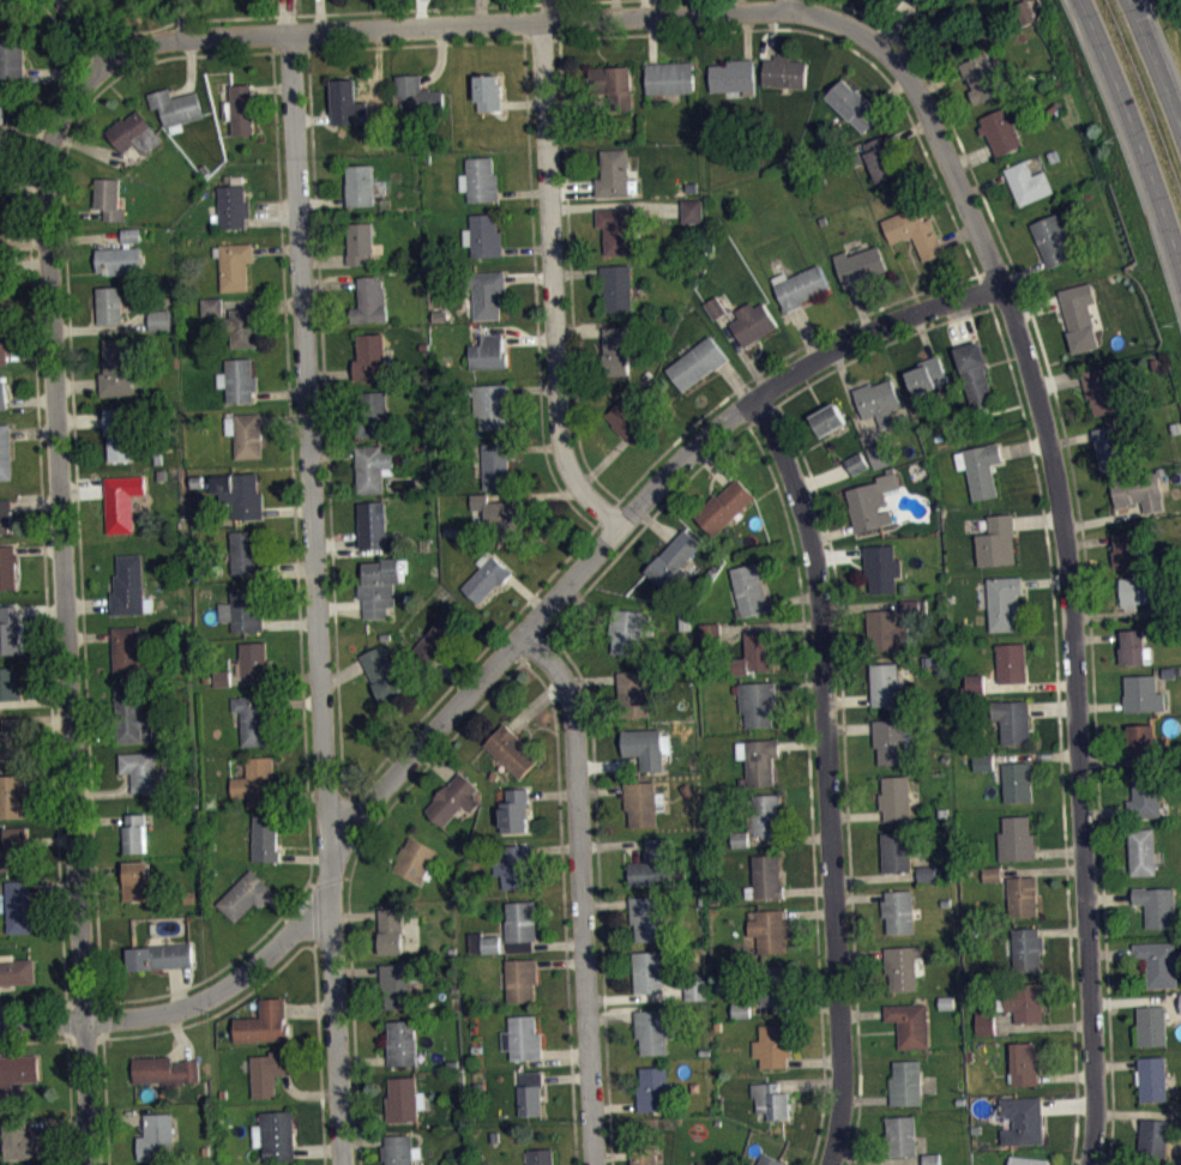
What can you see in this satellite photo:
building: (125, 0)
building: (920, 2)
road: (735, 6)
building: (2, 8)
road: (341, 12)
road: (448, 25)
road: (61, 28)
road: (100, 37)
road: (540, 38)
road: (415, 43)
road: (844, 43)
road: (289, 50)
road: (1158, 54)
building: (12, 55)
building: (784, 71)
building: (733, 76)
building: (669, 77)
building: (981, 77)
building: (611, 87)
building: (488, 92)
building: (416, 96)
building: (345, 101)
building: (852, 104)
building: (1, 107)
building: (175, 107)
building: (240, 109)
road: (1137, 127)
building: (1001, 131)
building: (134, 133)
building: (881, 158)
building: (615, 173)
building: (480, 179)
building: (1028, 182)
building: (360, 183)
building: (108, 198)
building: (233, 206)
building: (692, 210)
building: (620, 227)
building: (914, 230)
building: (0, 234)
building: (483, 235)
building: (1052, 239)
building: (358, 242)
building: (120, 255)
building: (235, 265)
building: (860, 265)
road: (571, 276)
road: (553, 282)
building: (801, 285)
building: (1, 286)
building: (617, 286)
building: (487, 294)
building: (369, 300)
road: (536, 300)
building: (109, 304)
building: (211, 306)
building: (715, 307)
building: (158, 319)
building: (753, 322)
building: (1080, 326)
building: (241, 327)
building: (2, 340)
building: (616, 349)
building: (488, 352)
building: (370, 356)
building: (697, 362)
road: (772, 364)
building: (116, 367)
building: (974, 370)
building: (927, 375)
building: (237, 379)
building: (1103, 388)
building: (2, 391)
building: (878, 400)
building: (494, 405)
building: (373, 414)
building: (628, 417)
building: (827, 418)
building: (119, 433)
building: (245, 434)
building: (1108, 447)
building: (5, 452)
building: (880, 453)
road: (326, 454)
building: (498, 463)
building: (856, 463)
building: (372, 467)
building: (980, 467)
road: (76, 469)
building: (857, 471)
building: (1139, 490)
building: (240, 493)
building: (872, 500)
building: (122, 502)
building: (724, 505)
road: (656, 513)
building: (5, 515)
building: (501, 517)
road: (42, 520)
building: (374, 526)
road: (1062, 532)
building: (996, 541)
road: (1081, 543)
building: (1125, 549)
building: (246, 551)
building: (673, 556)
road: (64, 563)
building: (7, 566)
building: (881, 567)
building: (486, 577)
building: (129, 586)
building: (379, 586)
building: (749, 590)
road: (297, 591)
building: (1135, 591)
road: (317, 599)
building: (1004, 600)
building: (914, 605)
building: (243, 608)
building: (914, 616)
building: (8, 628)
building: (628, 629)
building: (886, 630)
building: (710, 633)
building: (440, 638)
building: (1135, 647)
building: (126, 650)
building: (755, 652)
road: (528, 653)
road: (839, 654)
building: (254, 658)
road: (472, 660)
building: (929, 660)
building: (1011, 662)
road: (490, 671)
building: (382, 674)
building: (222, 677)
building: (8, 683)
building: (974, 683)
building: (887, 686)
building: (224, 687)
building: (635, 693)
building: (1143, 693)
building: (758, 701)
building: (131, 716)
building: (255, 717)
building: (1012, 719)
road: (1059, 720)
building: (12, 738)
building: (891, 740)
building: (1144, 741)
building: (644, 747)
building: (511, 750)
building: (759, 759)
building: (983, 761)
building: (140, 769)
building: (984, 769)
road: (825, 777)
building: (1017, 780)
building: (257, 781)
road: (809, 790)
building: (12, 795)
building: (1146, 795)
building: (896, 797)
building: (453, 798)
building: (641, 802)
building: (514, 810)
building: (766, 815)
building: (134, 833)
building: (266, 838)
building: (740, 838)
building: (1016, 838)
building: (13, 847)
building: (896, 851)
building: (1143, 851)
building: (414, 858)
road: (560, 862)
building: (652, 862)
building: (513, 864)
road: (353, 869)
building: (926, 873)
building: (992, 873)
road: (598, 877)
building: (765, 877)
road: (331, 879)
building: (138, 881)
building: (928, 881)
building: (993, 881)
road: (582, 892)
building: (245, 894)
building: (1022, 895)
building: (1157, 905)
building: (19, 906)
building: (898, 910)
road: (314, 912)
building: (647, 917)
building: (520, 920)
building: (391, 929)
building: (766, 931)
building: (490, 943)
building: (1026, 947)
road: (296, 950)
building: (161, 956)
building: (697, 958)
building: (1158, 962)
building: (903, 965)
building: (16, 970)
building: (650, 971)
building: (522, 979)
building: (775, 984)
building: (397, 985)
building: (697, 989)
building: (946, 1001)
building: (1023, 1001)
road: (49, 1006)
building: (741, 1009)
building: (742, 1018)
road: (103, 1019)
building: (986, 1021)
building: (264, 1022)
building: (910, 1024)
building: (1152, 1024)
building: (651, 1030)
building: (523, 1037)
road: (42, 1039)
building: (403, 1042)
building: (773, 1045)
building: (1024, 1063)
road: (104, 1066)
building: (165, 1069)
building: (16, 1070)
building: (270, 1070)
building: (1152, 1078)
road: (70, 1079)
building: (905, 1081)
building: (652, 1089)
building: (531, 1093)
building: (404, 1099)
building: (772, 1100)
building: (1023, 1119)
road: (573, 1121)
building: (275, 1134)
building: (900, 1134)
building: (156, 1135)
building: (1153, 1137)
road: (108, 1139)
building: (20, 1140)
road: (72, 1142)
building: (399, 1149)
road: (360, 1152)
building: (644, 1155)
road: (325, 1157)
building: (541, 1157)
building: (930, 1158)
road: (611, 1159)
building: (769, 1159)
road: (849, 1159)
building: (1028, 1159)
road: (1071, 1161)
building: (706, 1163)
building: (152, 1164)
building: (999, 1164)

